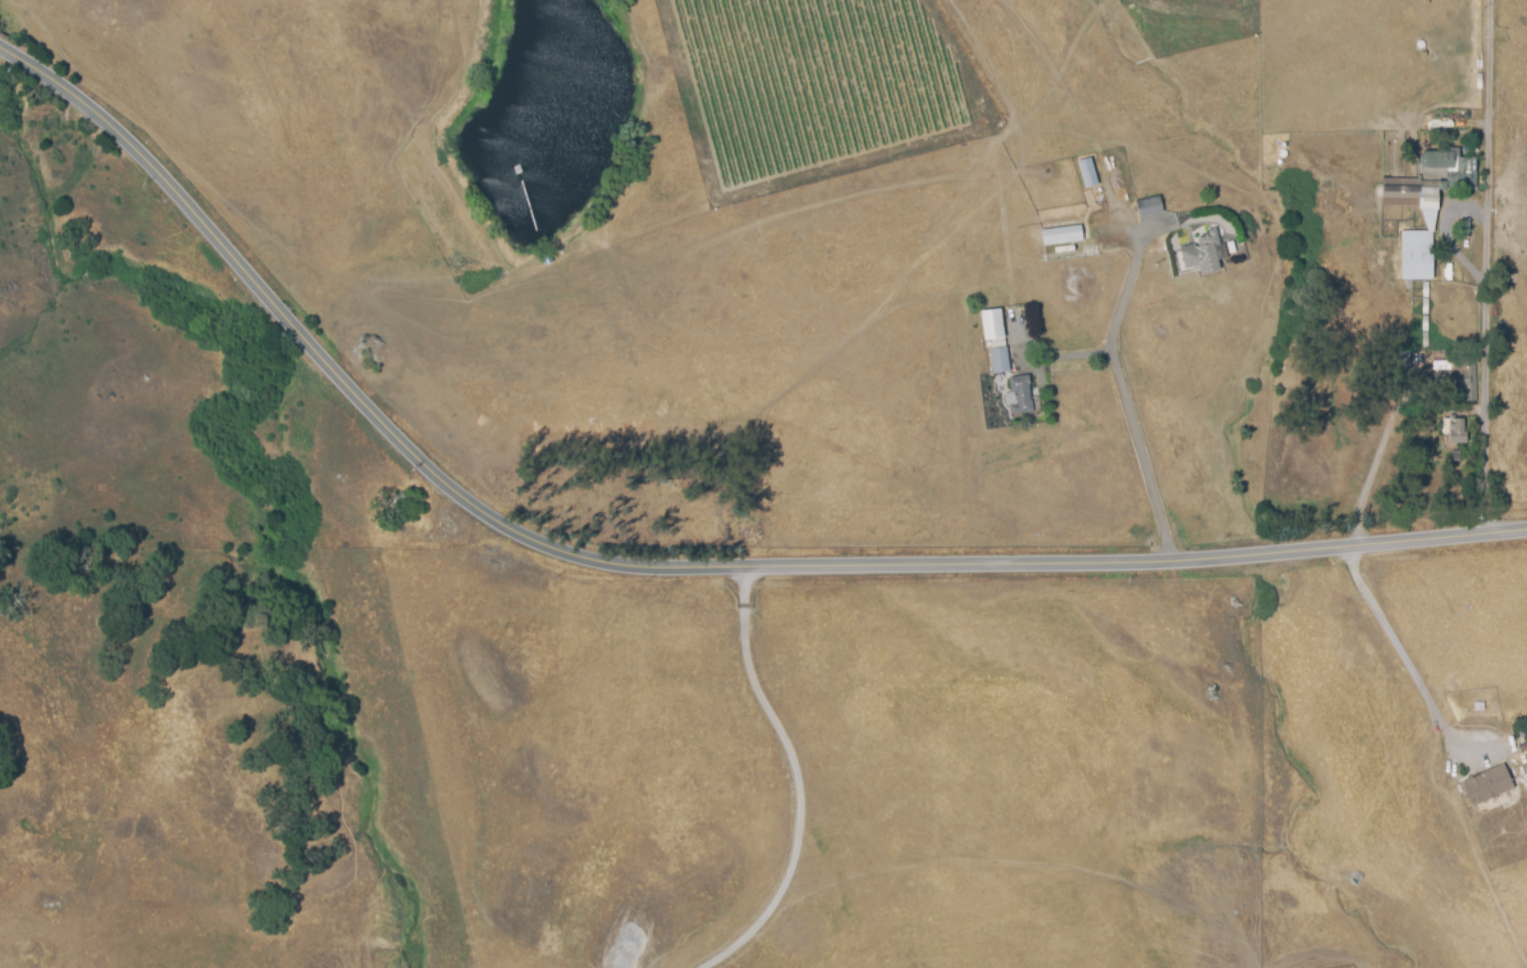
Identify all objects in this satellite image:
building: (1451, 166)
building: (1087, 173)
building: (1410, 196)
building: (1149, 207)
building: (1062, 236)
building: (1206, 253)
building: (1418, 255)
building: (548, 261)
road: (1489, 267)
building: (992, 324)
building: (1000, 360)
building: (1453, 381)
building: (1021, 394)
road: (1127, 403)
building: (1455, 438)
road: (1375, 461)
road: (663, 575)
road: (1400, 649)
road: (798, 784)
building: (1485, 787)

